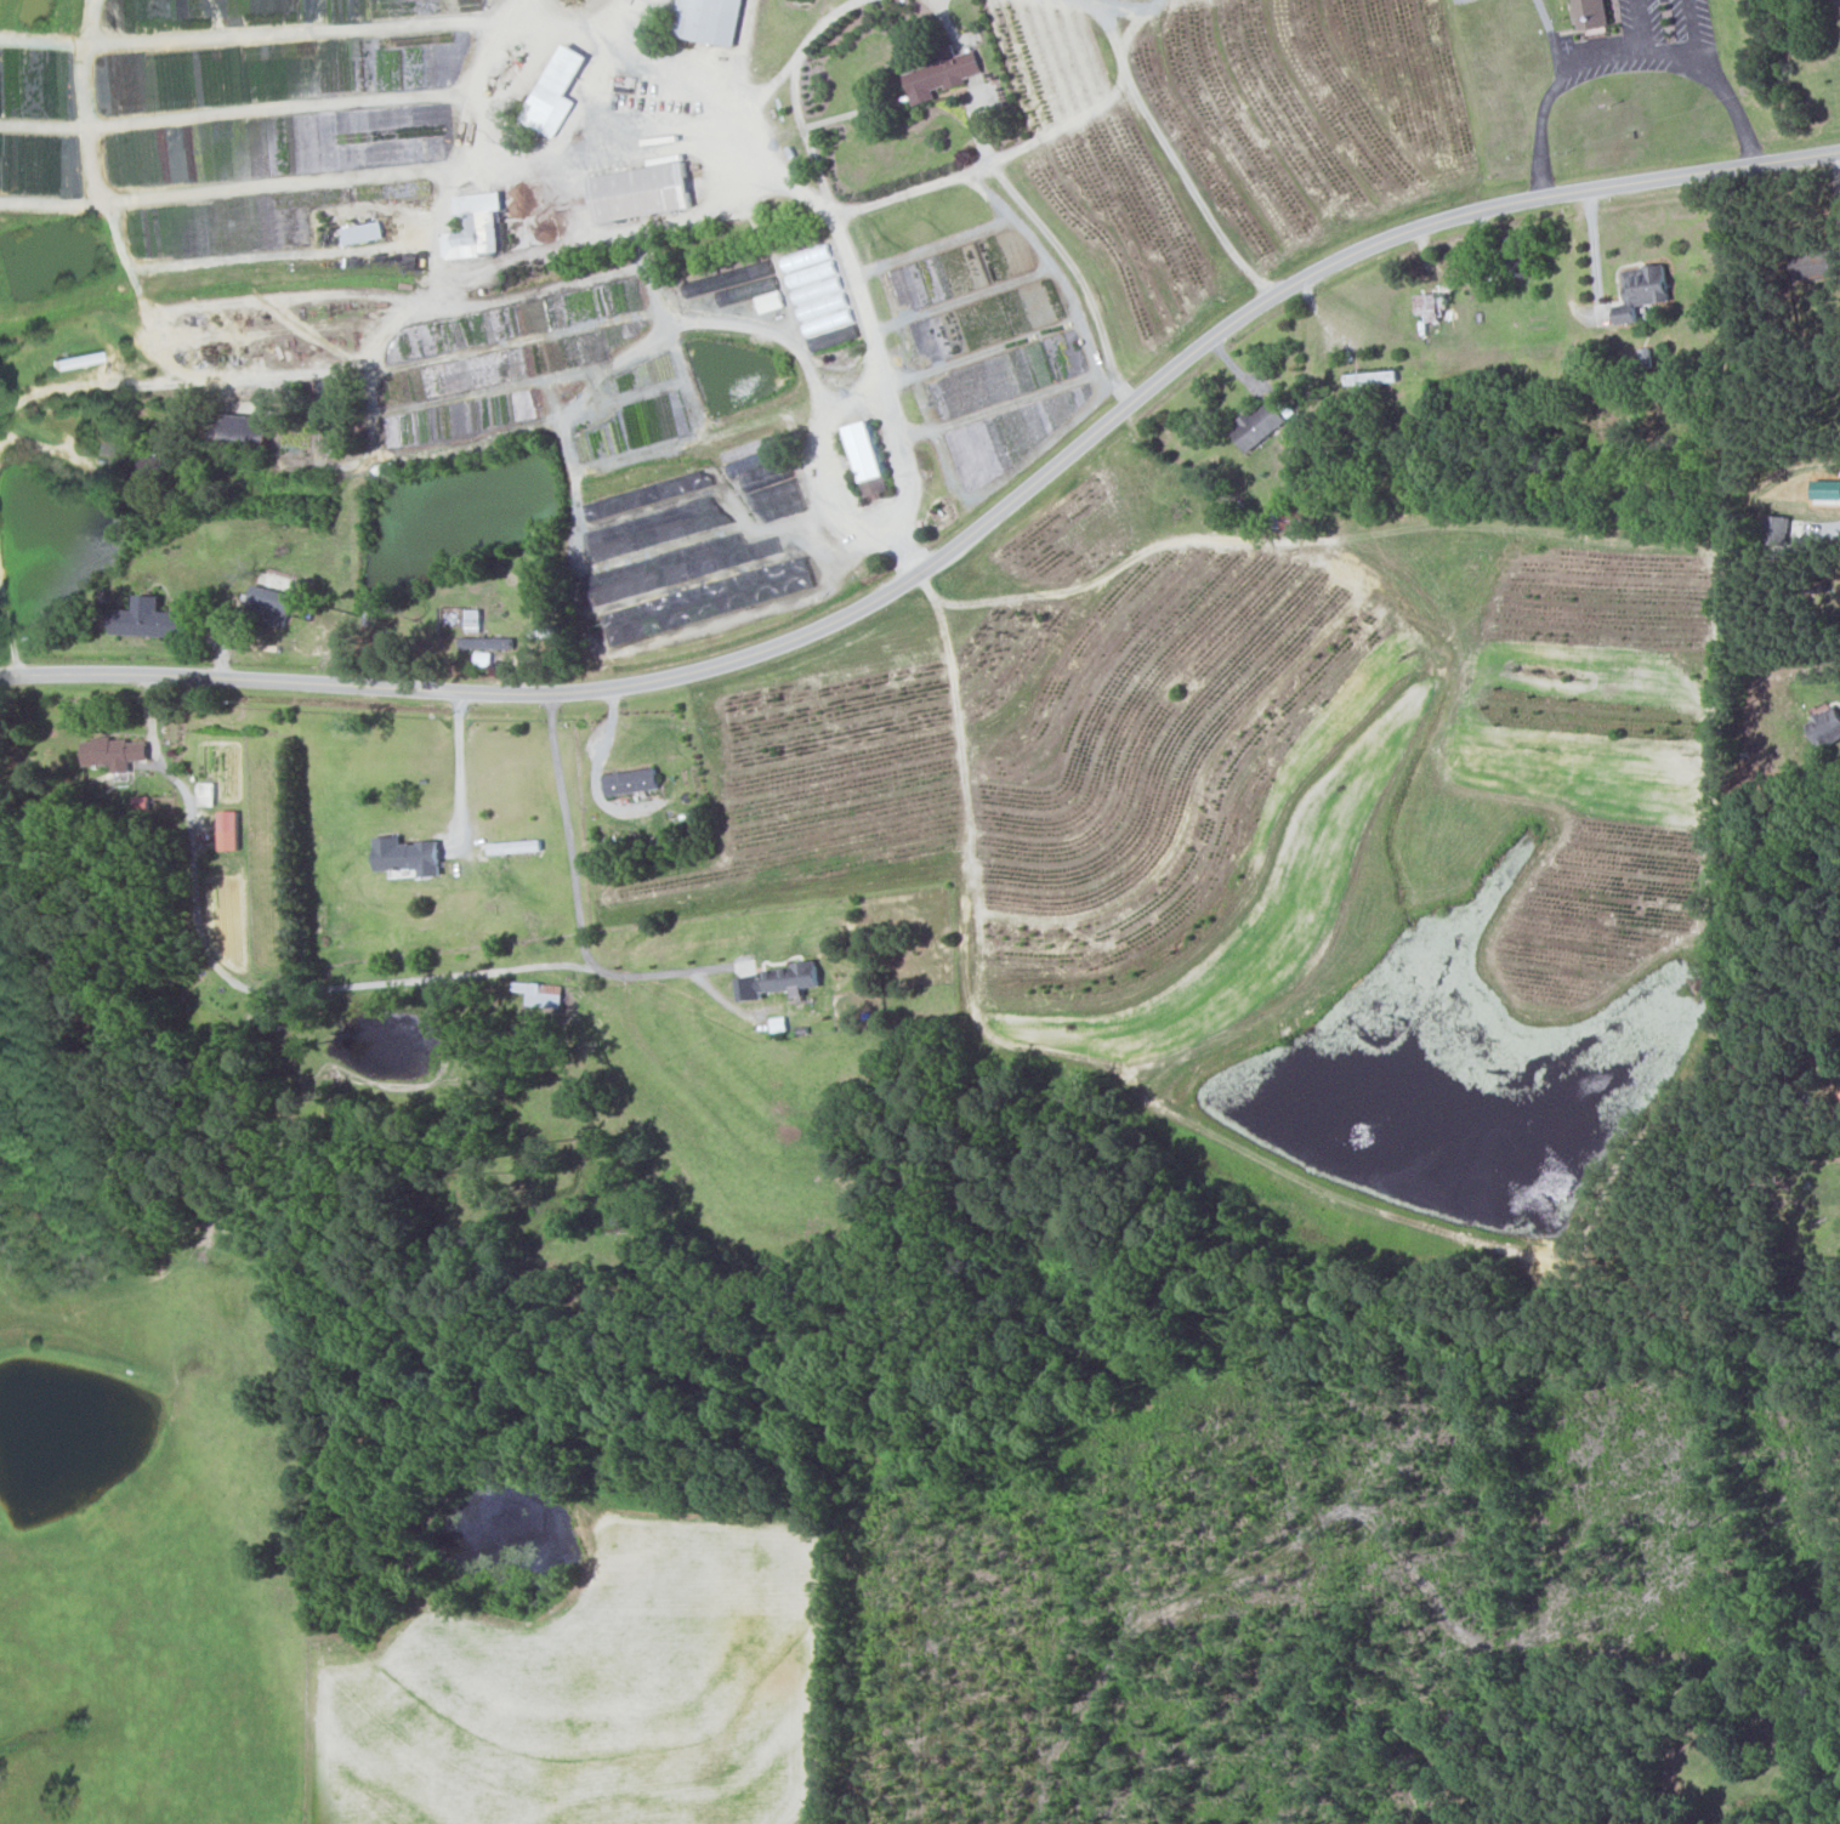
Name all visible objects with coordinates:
road: (1117, 4)
building: (1590, 13)
road: (945, 16)
building: (706, 19)
road: (619, 23)
road: (1636, 25)
road: (1694, 28)
road: (1623, 52)
road: (648, 68)
building: (939, 73)
road: (488, 75)
road: (794, 85)
building: (553, 91)
road: (545, 159)
road: (995, 171)
road: (950, 178)
road: (1189, 186)
road: (239, 187)
building: (638, 191)
building: (472, 226)
building: (360, 232)
road: (254, 246)
road: (1595, 251)
building: (1514, 255)
building: (1813, 265)
building: (816, 289)
building: (1641, 290)
building: (768, 301)
building: (1429, 306)
road: (750, 316)
road: (858, 387)
building: (1256, 426)
building: (864, 458)
road: (958, 545)
road: (1119, 563)
building: (267, 604)
building: (146, 619)
building: (472, 620)
road: (10, 630)
building: (479, 642)
building: (1824, 727)
building: (112, 752)
road: (460, 768)
road: (595, 769)
building: (629, 782)
building: (204, 792)
road: (567, 828)
building: (226, 830)
building: (405, 856)
road: (661, 972)
building: (777, 982)
road: (244, 985)
building: (539, 993)

